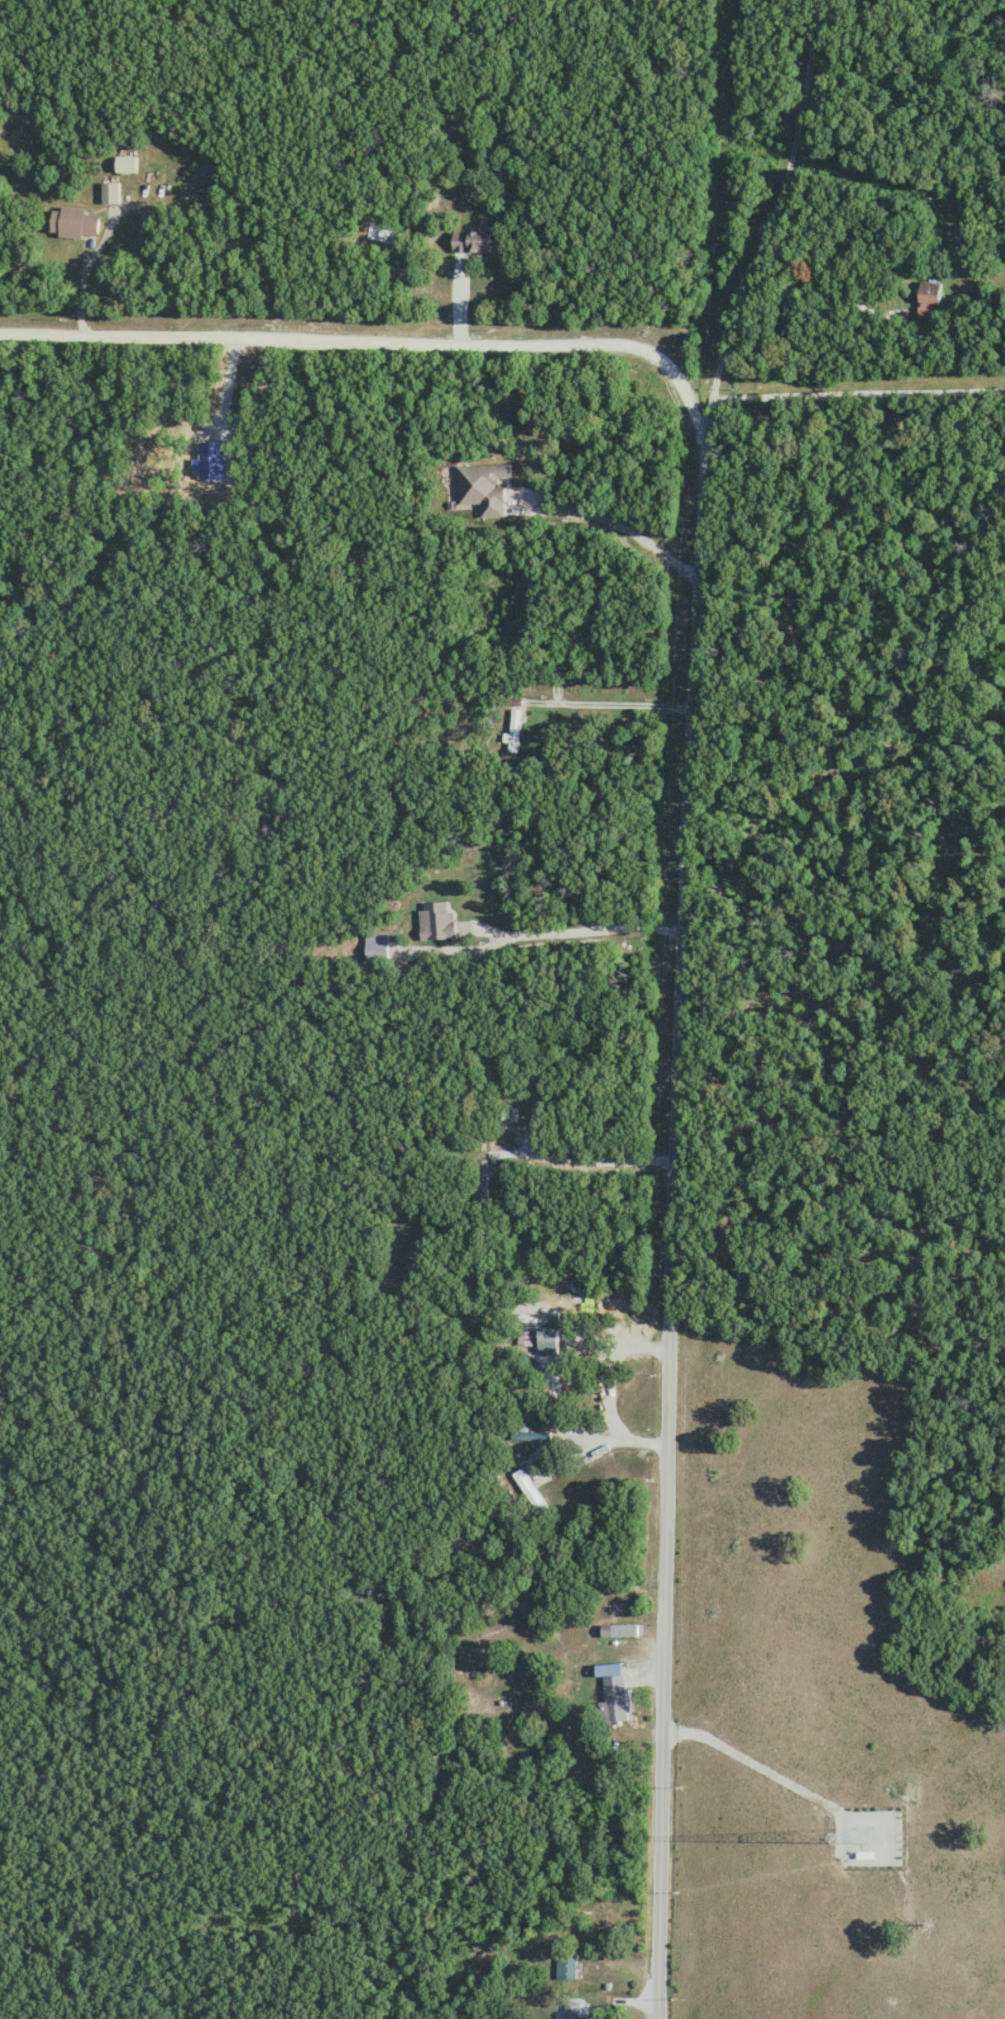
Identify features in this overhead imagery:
building: (124, 163)
building: (109, 192)
road: (770, 217)
building: (73, 223)
building: (471, 242)
building: (928, 296)
road: (368, 337)
road: (227, 382)
road: (858, 390)
building: (482, 486)
road: (611, 520)
road: (608, 701)
road: (581, 927)
building: (376, 945)
road: (584, 1155)
building: (480, 1179)
road: (666, 1217)
building: (523, 1337)
building: (547, 1338)
road: (603, 1388)
building: (529, 1434)
building: (618, 1629)
building: (613, 1698)
building: (565, 1965)
building: (574, 2008)

